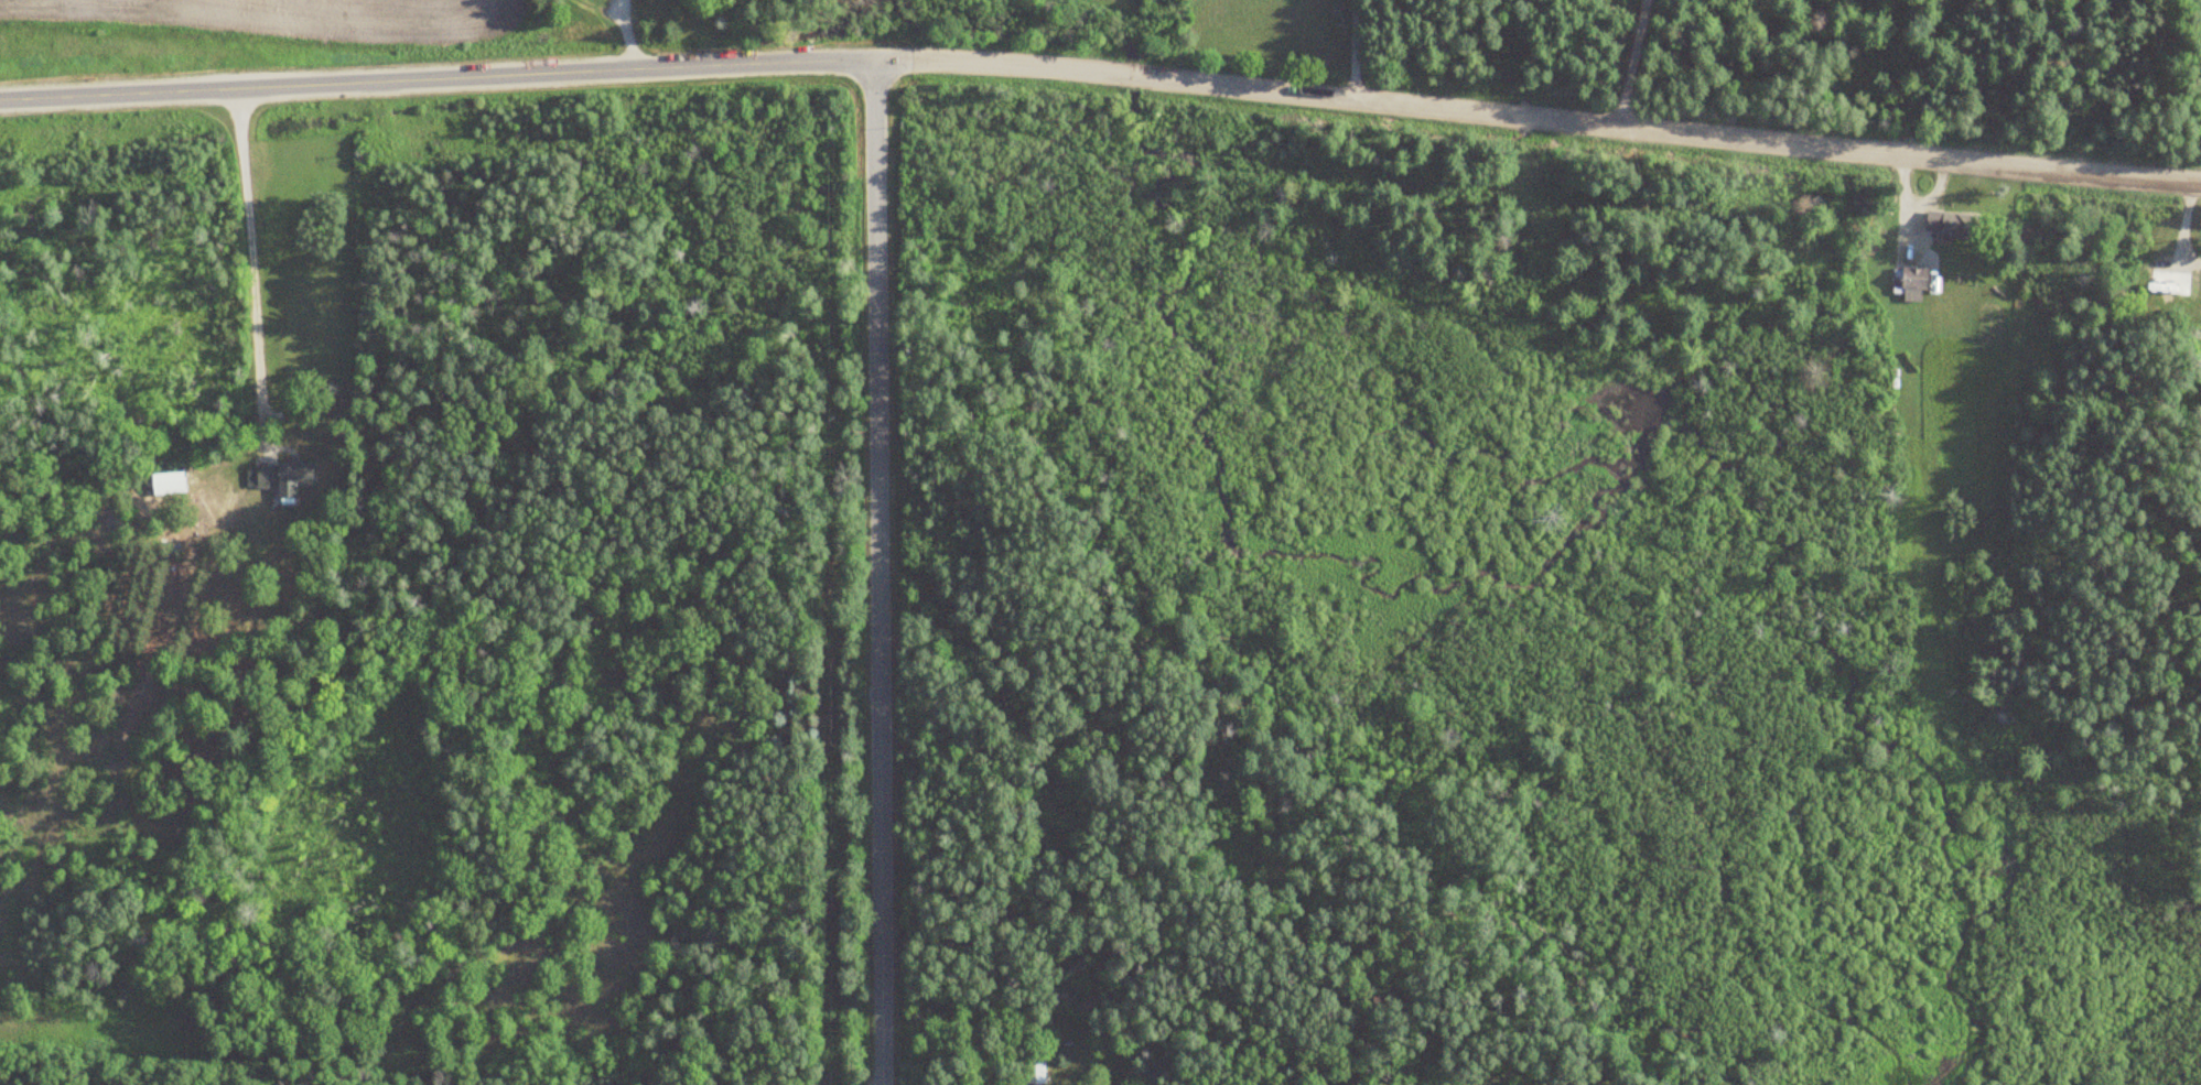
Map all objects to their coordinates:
road: (1102, 72)
building: (1946, 226)
building: (1907, 280)
building: (2167, 283)
road: (250, 284)
building: (278, 478)
building: (164, 485)
road: (875, 573)
building: (1032, 1071)

